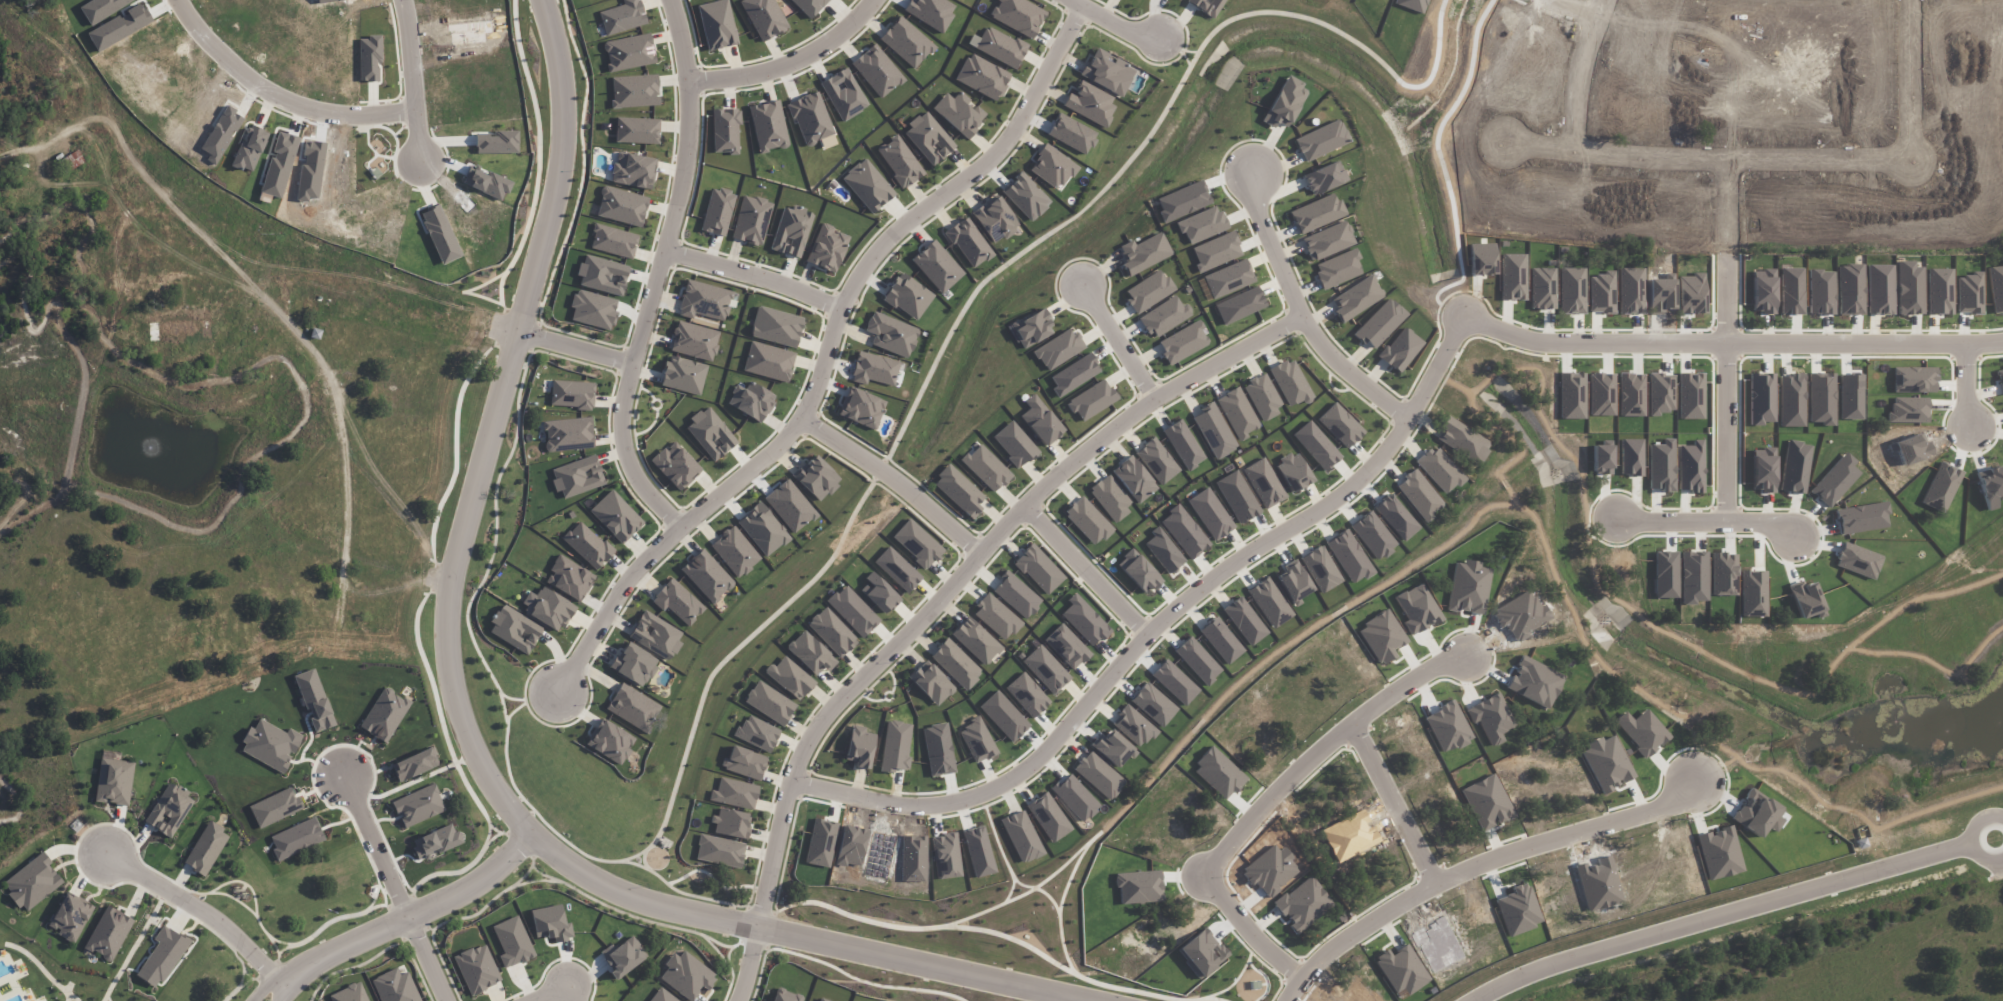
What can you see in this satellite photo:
road: (1584, 5)
building: (809, 6)
building: (1207, 6)
building: (1018, 16)
building: (623, 17)
building: (764, 17)
road: (1110, 21)
building: (717, 24)
building: (906, 42)
building: (1000, 47)
building: (629, 52)
road: (788, 64)
road: (1582, 69)
building: (877, 71)
building: (1107, 72)
building: (982, 77)
road: (414, 81)
road: (286, 86)
building: (635, 91)
building: (843, 94)
building: (1090, 103)
building: (1285, 103)
building: (959, 113)
building: (813, 122)
building: (768, 126)
building: (637, 130)
building: (725, 130)
building: (929, 138)
building: (1321, 140)
road: (12, 142)
building: (497, 142)
road: (1789, 147)
building: (249, 148)
building: (71, 161)
building: (899, 161)
building: (1052, 167)
building: (633, 171)
building: (1324, 177)
building: (867, 185)
building: (1026, 196)
building: (1182, 201)
building: (622, 206)
building: (717, 212)
building: (1316, 213)
building: (996, 219)
building: (751, 220)
building: (1202, 225)
building: (791, 231)
building: (614, 241)
building: (1328, 241)
road: (1727, 241)
building: (969, 242)
building: (827, 248)
building: (1216, 251)
building: (1144, 253)
building: (937, 266)
building: (1338, 268)
road: (658, 271)
building: (602, 272)
road: (755, 273)
building: (1228, 279)
building: (1148, 291)
building: (907, 296)
building: (1357, 298)
building: (704, 301)
building: (1239, 305)
building: (593, 309)
building: (1165, 316)
road: (1295, 318)
building: (1380, 323)
building: (776, 326)
building: (1032, 328)
building: (891, 334)
road: (534, 336)
road: (1717, 336)
building: (694, 341)
building: (1183, 342)
road: (561, 343)
road: (1115, 346)
road: (830, 349)
building: (1058, 349)
building: (1401, 349)
building: (768, 361)
road: (621, 362)
building: (875, 369)
building: (683, 375)
building: (1074, 375)
building: (1290, 382)
road: (1967, 387)
building: (573, 394)
building: (1262, 396)
building: (1092, 400)
building: (751, 401)
building: (861, 408)
building: (1237, 413)
building: (1040, 421)
building: (1340, 425)
road: (1726, 428)
building: (1214, 431)
building: (710, 433)
building: (568, 434)
building: (1463, 440)
building: (1014, 444)
building: (1183, 444)
building: (1316, 445)
building: (1157, 461)
building: (675, 465)
building: (986, 468)
building: (1440, 470)
building: (1293, 472)
building: (577, 476)
building: (816, 478)
road: (894, 478)
building: (1134, 479)
building: (1264, 483)
building: (959, 491)
building: (1419, 495)
building: (1110, 497)
building: (1210, 514)
building: (616, 516)
building: (1396, 517)
building: (1088, 520)
road: (1708, 520)
building: (762, 529)
building: (1184, 531)
building: (1373, 535)
building: (917, 543)
road: (455, 544)
building: (587, 545)
building: (734, 551)
building: (1164, 552)
building: (1349, 556)
road: (1088, 566)
building: (897, 569)
building: (1039, 569)
building: (1321, 569)
building: (1140, 571)
building: (706, 576)
road: (614, 577)
building: (569, 578)
building: (1293, 582)
building: (879, 593)
building: (1016, 595)
road: (936, 600)
building: (677, 602)
building: (1269, 603)
building: (548, 608)
building: (853, 611)
building: (996, 617)
building: (1085, 620)
building: (1245, 621)
building: (515, 629)
building: (832, 632)
road: (1149, 632)
building: (655, 636)
building: (1221, 640)
road: (744, 641)
building: (975, 641)
building: (1067, 646)
building: (810, 653)
road: (861, 659)
building: (1197, 660)
building: (634, 664)
building: (955, 664)
building: (1046, 669)
building: (790, 678)
building: (1174, 682)
building: (931, 683)
building: (1027, 694)
road: (511, 697)
building: (314, 700)
building: (769, 703)
building: (1153, 704)
building: (633, 707)
building: (384, 715)
road: (506, 716)
building: (1133, 726)
building: (757, 733)
building: (977, 741)
building: (610, 742)
building: (270, 745)
building: (860, 746)
building: (895, 746)
building: (1111, 748)
building: (744, 762)
building: (1098, 775)
building: (113, 779)
building: (734, 793)
building: (1075, 797)
road: (1267, 802)
road: (1394, 804)
building: (418, 806)
building: (275, 807)
building: (169, 810)
building: (1049, 817)
building: (731, 823)
road: (1976, 829)
road: (553, 830)
building: (1022, 836)
building: (296, 839)
building: (436, 842)
building: (206, 848)
road: (641, 851)
building: (720, 851)
building: (946, 856)
road: (1479, 868)
road: (710, 875)
building: (32, 882)
road: (397, 886)
road: (714, 900)
road: (198, 904)
road: (413, 909)
road: (1719, 910)
building: (71, 917)
building: (108, 933)
building: (162, 956)
building: (623, 956)
road: (941, 960)
building: (477, 969)
building: (687, 975)
road: (263, 984)
road: (281, 987)
building: (394, 987)
road: (573, 991)
road: (548, 992)
road: (1985, 993)
building: (350, 994)
building: (662, 996)
building: (784, 997)
building: (822, 999)

